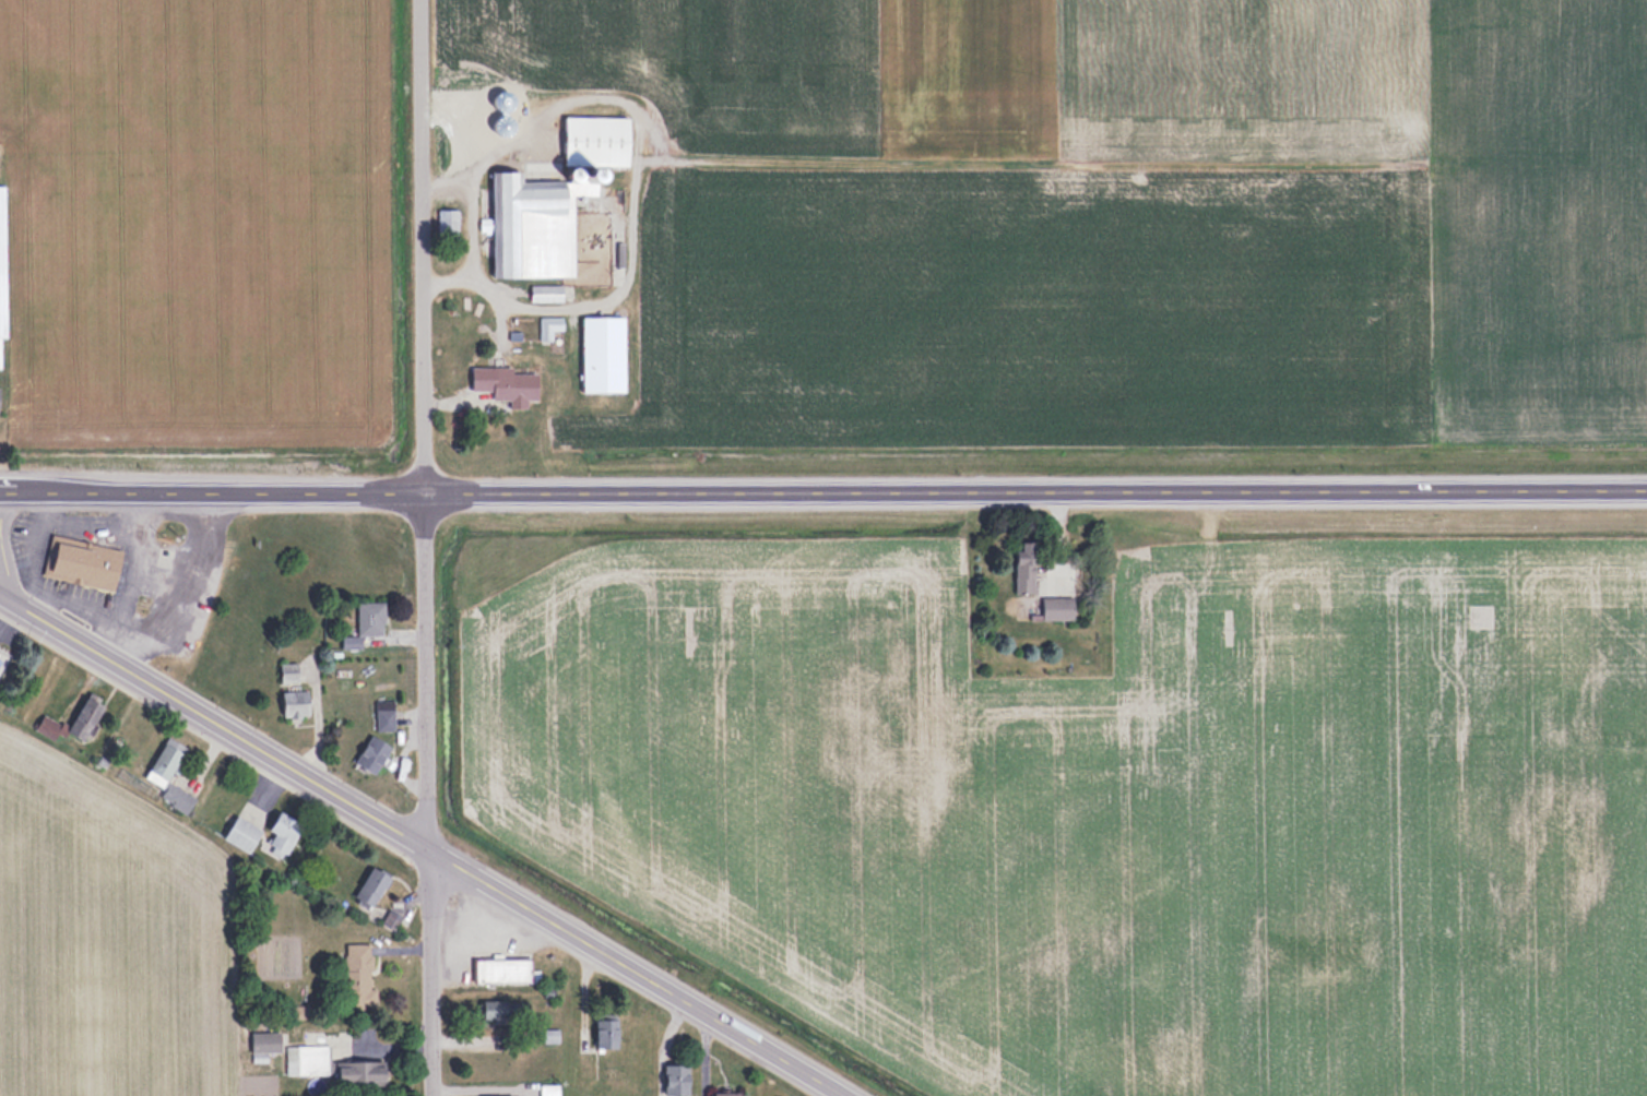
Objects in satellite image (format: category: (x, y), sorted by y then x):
building: (552, 202)
building: (2, 266)
building: (545, 293)
building: (602, 355)
building: (505, 384)
road: (822, 493)
road: (424, 548)
building: (83, 564)
building: (1023, 567)
building: (1056, 608)
building: (369, 618)
building: (287, 671)
building: (294, 703)
building: (383, 714)
building: (84, 717)
building: (48, 727)
building: (371, 752)
building: (169, 775)
building: (240, 833)
building: (282, 833)
road: (419, 845)
building: (369, 886)
building: (500, 970)
building: (356, 975)
building: (500, 1010)
building: (604, 1034)
building: (264, 1043)
building: (306, 1060)
building: (359, 1073)
building: (675, 1079)
building: (726, 1094)

